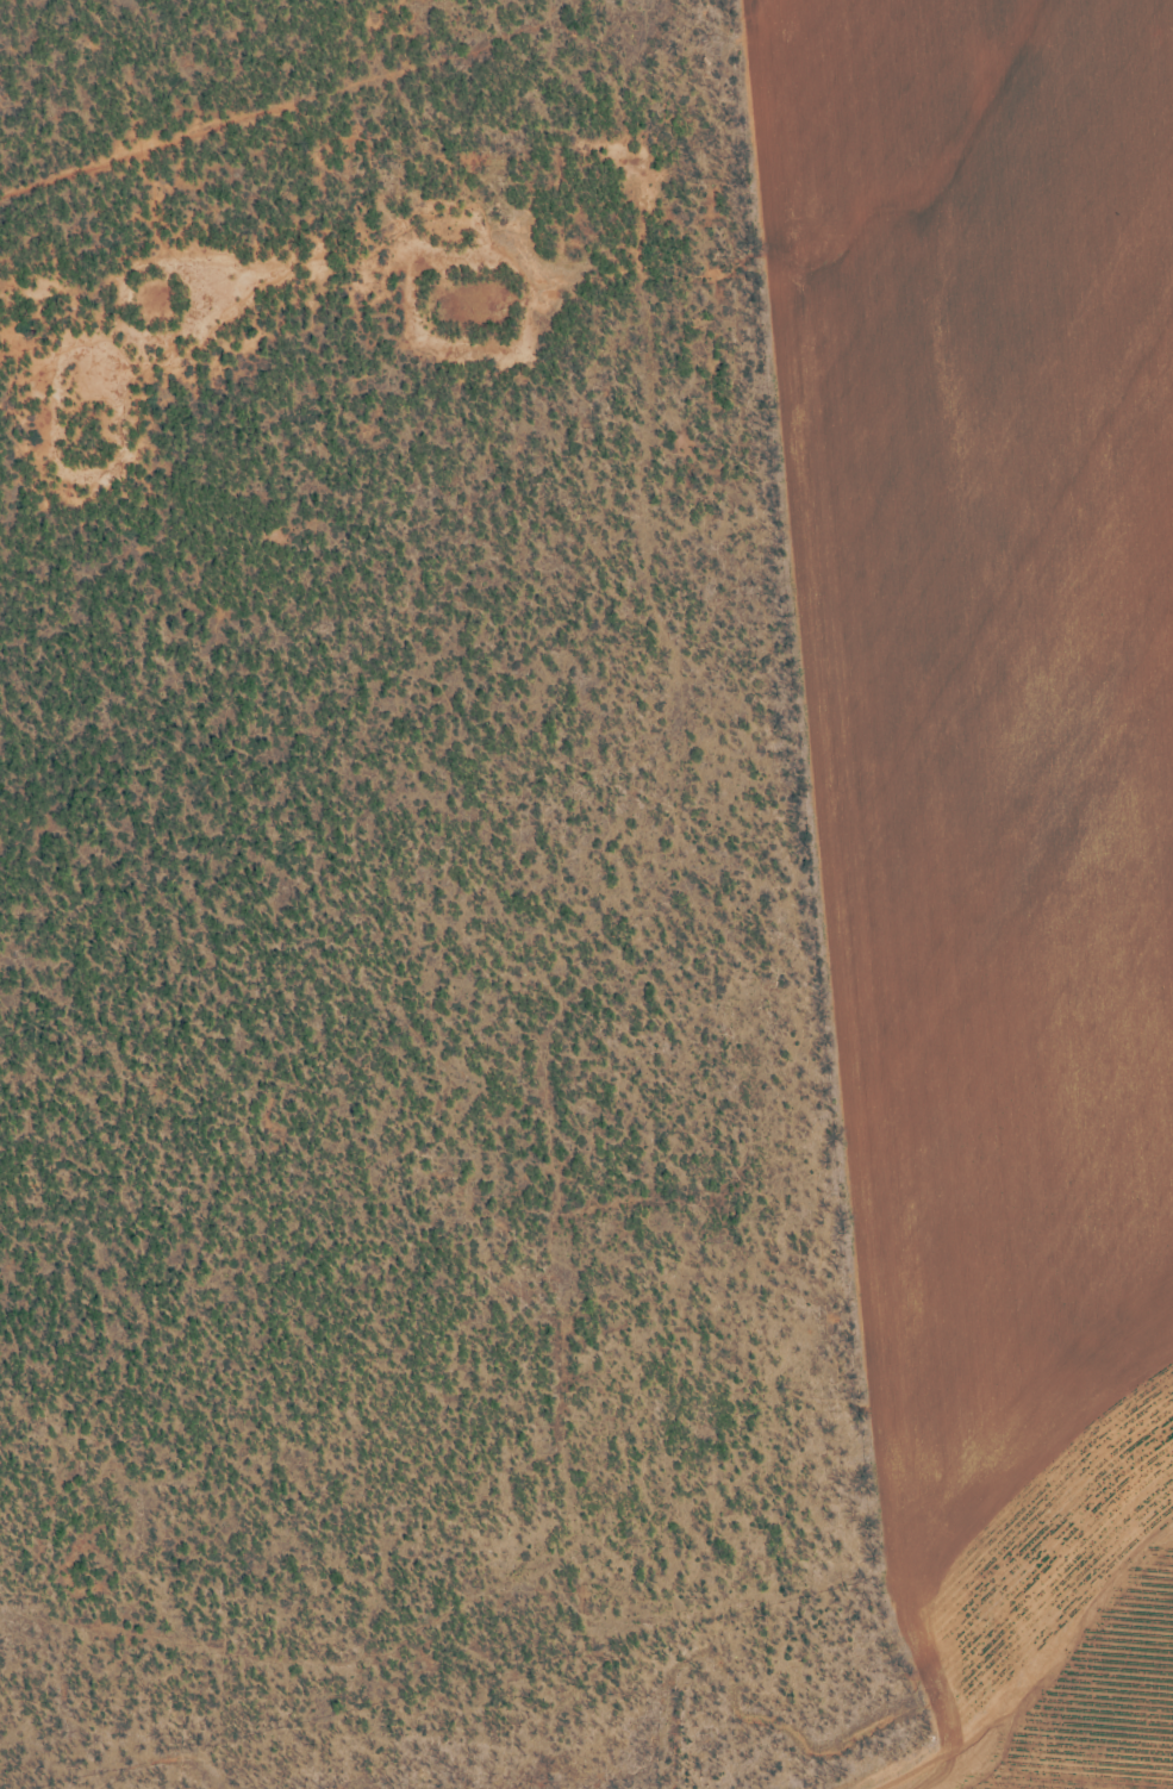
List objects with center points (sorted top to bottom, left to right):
road: (302, 108)

